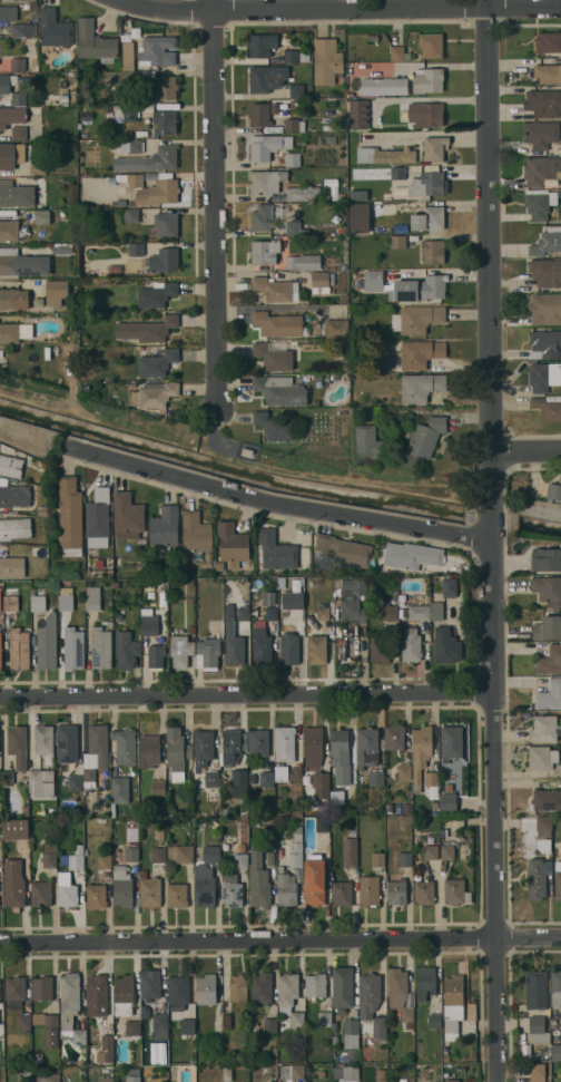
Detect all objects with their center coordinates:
building: (31, 0)
building: (2, 1)
building: (29, 6)
road: (342, 10)
building: (7, 12)
building: (53, 28)
building: (23, 30)
building: (373, 37)
building: (95, 42)
building: (548, 42)
building: (262, 45)
building: (431, 45)
building: (158, 50)
building: (400, 53)
building: (128, 55)
building: (291, 57)
building: (304, 57)
building: (326, 60)
building: (18, 64)
building: (548, 72)
building: (120, 78)
building: (259, 80)
building: (429, 80)
building: (7, 82)
building: (384, 86)
building: (161, 88)
building: (292, 91)
building: (18, 98)
building: (65, 98)
building: (329, 103)
building: (543, 104)
building: (35, 110)
building: (125, 113)
building: (259, 114)
building: (358, 114)
building: (431, 114)
building: (11, 116)
building: (165, 121)
building: (294, 125)
building: (18, 133)
building: (541, 134)
building: (331, 139)
building: (130, 146)
building: (267, 146)
building: (434, 147)
building: (385, 155)
building: (20, 158)
building: (149, 159)
building: (292, 159)
building: (540, 169)
building: (397, 173)
building: (121, 178)
building: (135, 181)
building: (265, 182)
building: (427, 184)
building: (157, 193)
building: (302, 193)
building: (16, 194)
building: (327, 194)
building: (341, 195)
building: (357, 195)
building: (540, 203)
road: (218, 205)
building: (131, 215)
building: (42, 216)
building: (360, 217)
building: (262, 218)
building: (429, 218)
building: (165, 225)
building: (293, 228)
building: (9, 231)
building: (398, 242)
road: (489, 242)
building: (547, 242)
building: (61, 247)
building: (136, 248)
building: (265, 251)
building: (433, 251)
building: (164, 260)
building: (303, 262)
building: (22, 263)
building: (545, 272)
building: (321, 282)
building: (407, 286)
building: (276, 289)
building: (56, 291)
building: (157, 295)
building: (13, 299)
building: (544, 309)
building: (417, 319)
building: (278, 324)
building: (147, 329)
building: (336, 329)
building: (9, 333)
building: (85, 341)
building: (543, 343)
building: (1, 353)
building: (420, 353)
building: (274, 357)
building: (158, 362)
building: (346, 368)
building: (335, 376)
building: (544, 377)
building: (421, 387)
building: (280, 390)
building: (154, 394)
building: (548, 407)
building: (275, 426)
building: (424, 440)
building: (370, 441)
building: (245, 449)
road: (525, 452)
building: (41, 465)
building: (11, 466)
river: (277, 484)
building: (553, 491)
building: (13, 494)
road: (280, 503)
road: (526, 506)
building: (41, 509)
road: (492, 511)
building: (69, 516)
building: (127, 516)
building: (98, 518)
building: (165, 526)
building: (14, 528)
building: (196, 532)
building: (141, 542)
building: (233, 544)
building: (276, 550)
building: (344, 550)
building: (46, 553)
building: (197, 555)
building: (412, 555)
building: (545, 558)
building: (206, 561)
building: (98, 563)
building: (191, 565)
building: (12, 567)
building: (229, 583)
building: (116, 584)
building: (268, 584)
building: (450, 587)
building: (547, 587)
building: (293, 595)
building: (268, 596)
building: (0, 598)
building: (66, 598)
building: (93, 598)
building: (351, 598)
building: (38, 602)
building: (11, 603)
building: (387, 611)
building: (436, 611)
building: (419, 612)
building: (243, 613)
building: (272, 613)
building: (323, 613)
building: (149, 622)
building: (259, 623)
building: (548, 627)
building: (191, 630)
building: (233, 639)
building: (343, 642)
building: (47, 643)
building: (411, 644)
building: (445, 644)
building: (262, 646)
building: (100, 647)
building: (380, 647)
building: (19, 649)
building: (73, 649)
building: (127, 649)
building: (180, 649)
building: (289, 649)
building: (316, 649)
building: (0, 652)
building: (208, 653)
building: (156, 657)
building: (550, 661)
road: (248, 694)
building: (550, 695)
building: (543, 729)
building: (394, 735)
building: (43, 740)
building: (313, 741)
building: (464, 741)
building: (452, 742)
building: (67, 743)
building: (258, 743)
building: (285, 743)
building: (17, 745)
building: (126, 745)
building: (230, 745)
building: (98, 747)
building: (204, 747)
building: (367, 747)
building: (177, 749)
building: (149, 751)
building: (421, 753)
building: (341, 754)
building: (542, 758)
building: (404, 771)
building: (280, 772)
building: (296, 773)
building: (8, 778)
building: (90, 778)
building: (213, 778)
building: (375, 778)
building: (252, 779)
building: (266, 779)
building: (432, 779)
building: (41, 783)
building: (76, 783)
building: (239, 783)
building: (322, 784)
building: (158, 788)
building: (120, 789)
building: (380, 793)
building: (336, 797)
building: (547, 799)
building: (447, 802)
building: (435, 803)
building: (390, 808)
building: (26, 810)
building: (173, 810)
road: (496, 810)
building: (52, 812)
building: (322, 823)
building: (544, 826)
building: (16, 828)
building: (159, 832)
building: (353, 832)
building: (50, 838)
building: (543, 846)
building: (242, 847)
building: (296, 848)
building: (79, 849)
building: (431, 851)
building: (447, 851)
building: (350, 852)
building: (132, 854)
building: (180, 854)
building: (211, 854)
building: (158, 855)
building: (49, 856)
building: (270, 858)
building: (65, 859)
building: (378, 859)
building: (405, 859)
building: (242, 860)
building: (76, 861)
building: (105, 861)
building: (63, 877)
building: (538, 878)
building: (314, 879)
building: (558, 879)
building: (258, 880)
building: (13, 883)
building: (205, 886)
building: (122, 887)
building: (286, 888)
building: (150, 889)
building: (232, 890)
building: (370, 890)
building: (396, 891)
building: (455, 891)
building: (41, 893)
building: (424, 893)
building: (342, 894)
building: (68, 895)
building: (177, 895)
building: (96, 896)
road: (280, 940)
building: (424, 982)
building: (0, 984)
building: (150, 984)
building: (316, 986)
building: (42, 987)
building: (238, 987)
building: (343, 987)
building: (206, 988)
building: (262, 988)
building: (557, 988)
building: (537, 990)
building: (97, 992)
building: (178, 992)
building: (16, 993)
building: (370, 994)
building: (400, 994)
building: (124, 995)
building: (289, 997)
building: (453, 1005)
building: (70, 1007)
building: (325, 1018)
building: (23, 1021)
building: (227, 1021)
building: (434, 1021)
building: (159, 1025)
building: (270, 1025)
building: (48, 1027)
building: (378, 1027)
building: (134, 1030)
building: (187, 1031)
building: (538, 1031)
building: (351, 1034)
building: (107, 1049)
building: (526, 1052)
building: (557, 1052)
building: (542, 1054)
building: (445, 1056)
building: (38, 1057)
building: (108, 1069)
building: (293, 1071)
building: (539, 1072)
building: (227, 1073)
building: (346, 1073)
building: (134, 1075)
building: (144, 1078)
building: (107, 1080)
building: (452, 1080)

